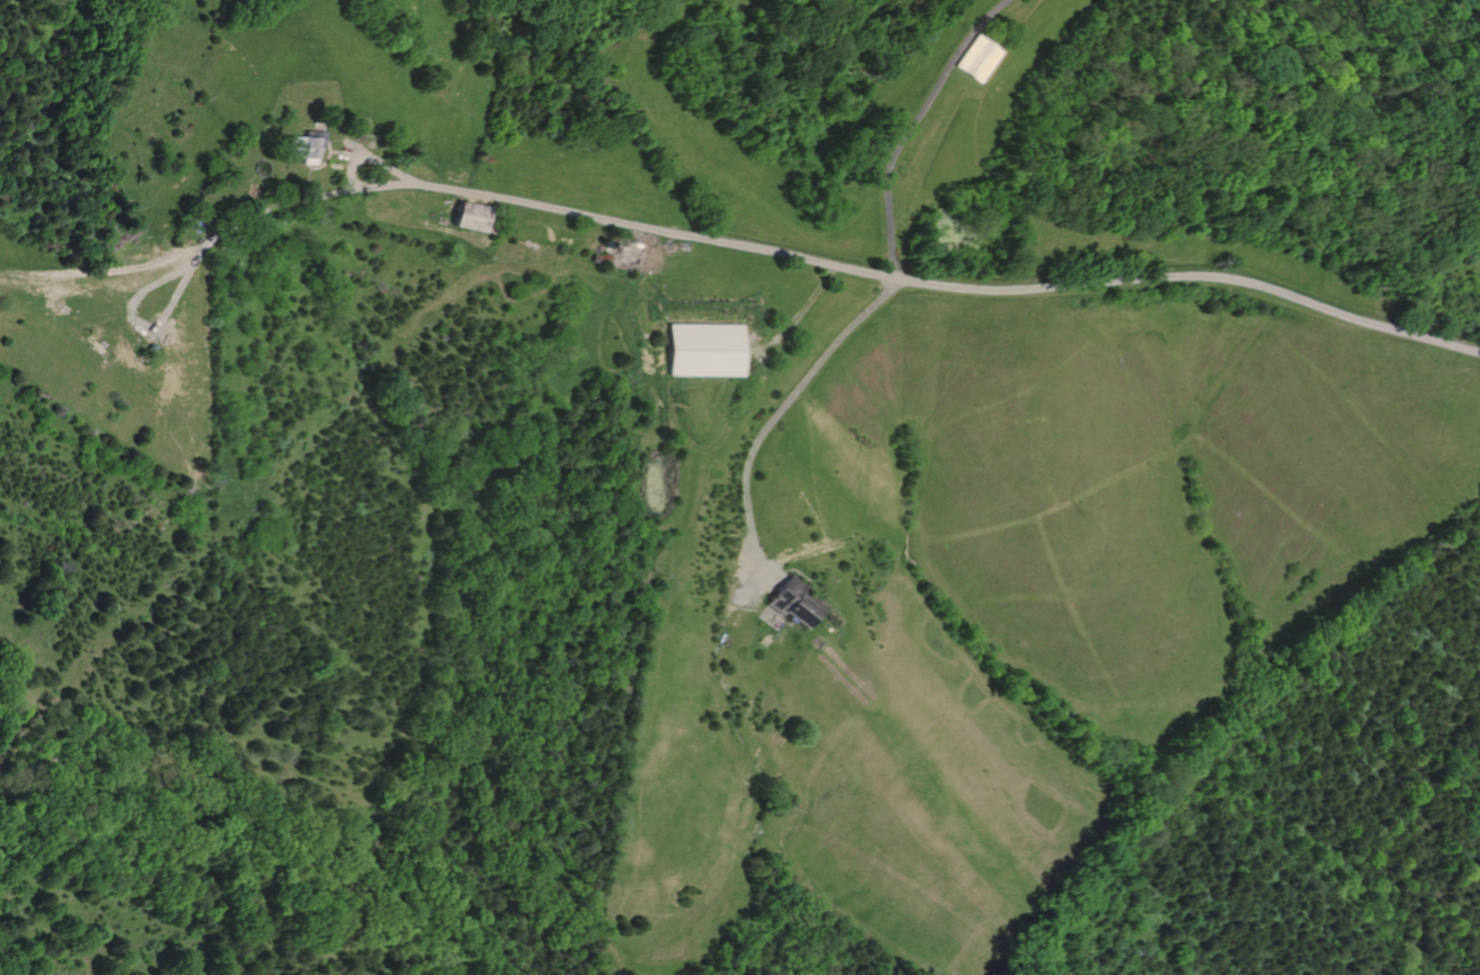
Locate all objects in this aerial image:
building: (977, 58)
road: (908, 126)
building: (357, 136)
building: (307, 146)
road: (336, 151)
road: (350, 154)
road: (326, 160)
road: (309, 181)
road: (262, 202)
building: (477, 217)
road: (227, 229)
building: (632, 254)
building: (597, 258)
building: (606, 259)
road: (107, 276)
road: (919, 283)
road: (804, 304)
building: (99, 347)
building: (152, 348)
building: (707, 351)
building: (144, 358)
road: (773, 420)
road: (797, 574)
road: (752, 582)
building: (794, 602)

